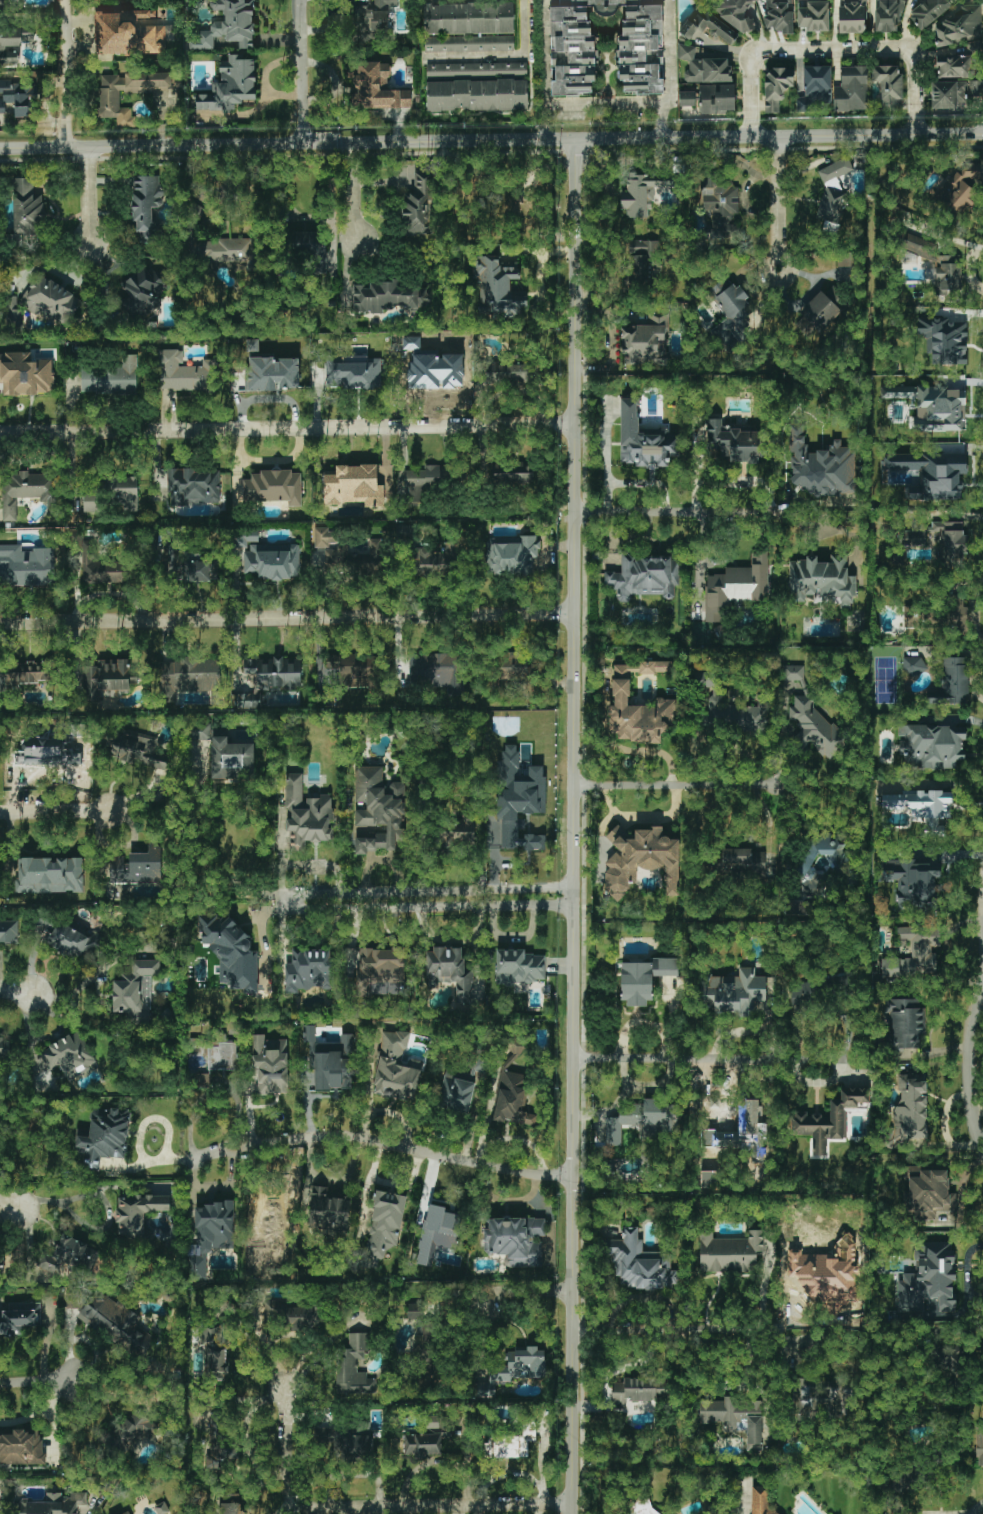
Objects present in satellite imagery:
building: (5, 2)
building: (928, 12)
building: (736, 13)
building: (836, 14)
building: (889, 14)
building: (779, 16)
building: (814, 17)
building: (852, 17)
building: (469, 18)
building: (228, 25)
building: (960, 27)
building: (708, 29)
building: (131, 33)
building: (469, 43)
building: (10, 46)
building: (973, 46)
road: (831, 47)
road: (501, 56)
building: (640, 57)
building: (954, 66)
building: (704, 67)
road: (668, 70)
road: (547, 71)
road: (304, 72)
road: (65, 73)
building: (176, 80)
building: (231, 85)
building: (888, 86)
building: (477, 87)
building: (777, 87)
building: (377, 88)
building: (815, 88)
building: (851, 90)
building: (954, 93)
building: (18, 98)
building: (686, 98)
building: (717, 98)
building: (108, 99)
road: (606, 107)
road: (491, 142)
road: (199, 170)
building: (832, 187)
building: (961, 188)
road: (351, 193)
building: (641, 195)
road: (91, 196)
building: (721, 202)
road: (775, 204)
building: (418, 206)
building: (27, 207)
building: (147, 208)
building: (311, 249)
building: (228, 251)
building: (640, 258)
building: (846, 260)
building: (938, 264)
building: (498, 287)
building: (143, 291)
building: (387, 297)
building: (50, 300)
building: (729, 311)
building: (13, 312)
building: (817, 314)
building: (944, 340)
building: (645, 341)
building: (436, 369)
building: (507, 371)
building: (354, 372)
building: (184, 373)
building: (26, 374)
building: (273, 374)
building: (111, 377)
building: (898, 392)
building: (939, 408)
road: (288, 429)
building: (643, 440)
building: (733, 442)
building: (821, 467)
building: (931, 473)
building: (512, 476)
building: (423, 481)
building: (193, 486)
building: (274, 487)
building: (353, 487)
building: (26, 491)
building: (125, 500)
road: (594, 513)
road: (691, 513)
road: (949, 516)
road: (824, 519)
building: (912, 538)
building: (950, 539)
building: (346, 554)
building: (512, 556)
building: (273, 561)
building: (435, 561)
building: (187, 564)
building: (26, 566)
building: (103, 567)
building: (645, 577)
building: (821, 581)
building: (737, 586)
building: (938, 615)
road: (287, 619)
building: (514, 664)
building: (914, 666)
building: (351, 670)
building: (438, 671)
building: (275, 672)
building: (27, 674)
building: (794, 674)
building: (191, 676)
building: (109, 678)
building: (953, 682)
building: (249, 701)
building: (638, 706)
building: (732, 711)
building: (815, 730)
building: (200, 731)
building: (931, 746)
building: (141, 750)
building: (231, 759)
road: (669, 782)
building: (518, 793)
building: (922, 807)
road: (55, 809)
building: (377, 810)
building: (307, 815)
road: (643, 815)
road: (577, 827)
building: (456, 831)
building: (534, 841)
road: (202, 845)
building: (641, 859)
building: (742, 859)
building: (806, 861)
building: (144, 866)
building: (117, 869)
building: (49, 875)
building: (914, 882)
building: (322, 886)
road: (266, 901)
building: (9, 932)
building: (72, 941)
building: (231, 952)
building: (914, 954)
building: (518, 967)
building: (379, 968)
building: (310, 970)
building: (449, 971)
building: (644, 979)
road: (19, 990)
building: (134, 990)
building: (734, 993)
building: (802, 994)
road: (982, 1004)
building: (906, 1022)
building: (309, 1033)
building: (515, 1044)
building: (4, 1047)
building: (67, 1055)
building: (222, 1056)
road: (678, 1059)
building: (271, 1064)
road: (974, 1064)
building: (396, 1068)
building: (201, 1080)
building: (464, 1082)
road: (212, 1090)
building: (512, 1099)
road: (489, 1108)
building: (911, 1109)
building: (830, 1119)
building: (642, 1120)
building: (103, 1137)
road: (521, 1139)
road: (386, 1144)
road: (215, 1186)
building: (928, 1193)
road: (68, 1200)
building: (271, 1203)
road: (10, 1204)
building: (327, 1210)
building: (138, 1212)
road: (10, 1214)
building: (384, 1226)
road: (100, 1229)
building: (437, 1233)
building: (210, 1235)
building: (516, 1240)
building: (730, 1252)
building: (72, 1257)
building: (4, 1261)
building: (641, 1263)
building: (928, 1279)
road: (531, 1289)
building: (415, 1311)
building: (288, 1314)
building: (19, 1318)
building: (115, 1322)
road: (675, 1327)
road: (295, 1334)
building: (214, 1352)
building: (427, 1353)
building: (948, 1357)
building: (353, 1367)
building: (515, 1369)
road: (34, 1379)
building: (641, 1389)
building: (814, 1397)
road: (39, 1412)
building: (736, 1418)
building: (129, 1433)
road: (246, 1435)
building: (429, 1437)
building: (348, 1440)
building: (21, 1446)
building: (221, 1447)
building: (979, 1449)
building: (638, 1501)
building: (761, 1501)
building: (231, 1503)
building: (52, 1504)
road: (373, 1507)
building: (161, 1509)
road: (978, 1510)
building: (127, 1513)

